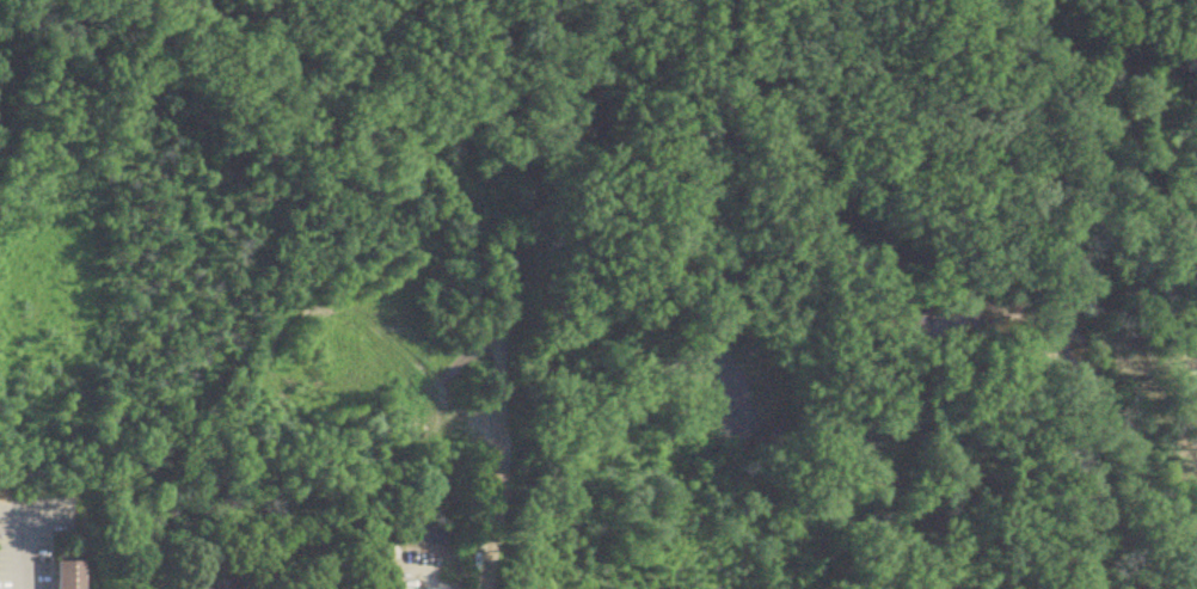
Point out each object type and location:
road: (516, 294)
river: (927, 321)
road: (31, 515)
parking lot: (31, 535)
road: (23, 552)
building: (63, 576)
building: (252, 587)

